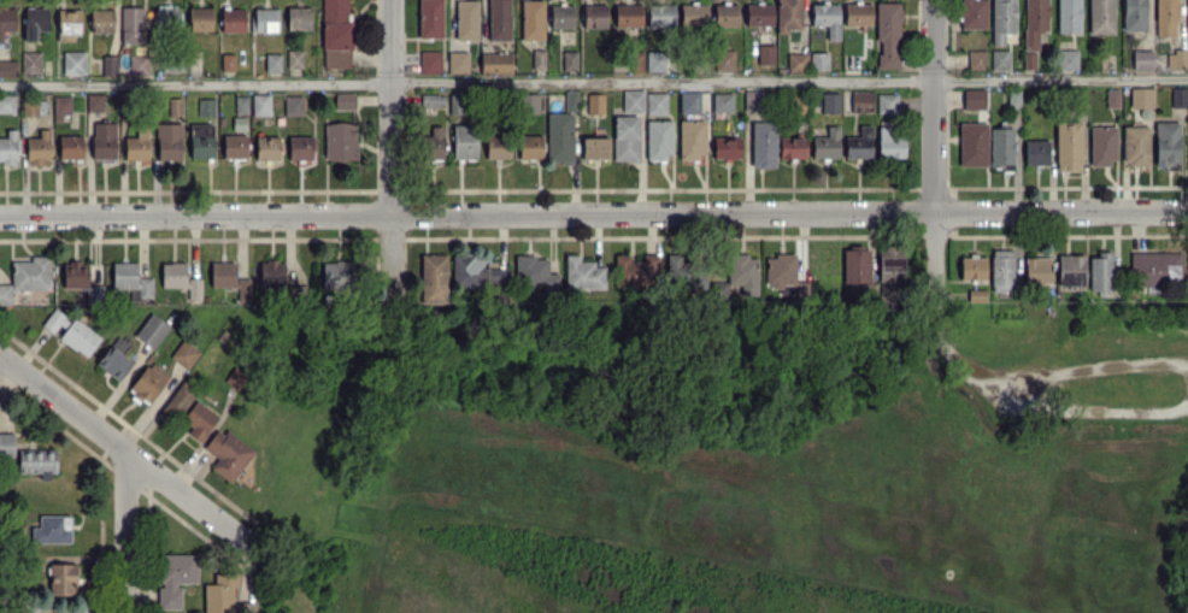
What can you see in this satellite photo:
road: (594, 81)
road: (934, 106)
road: (392, 107)
road: (594, 214)
road: (937, 320)
parking lot: (1115, 358)
road: (1102, 366)
parking lot: (1068, 406)
road: (1099, 409)
road: (127, 453)
road: (129, 534)

